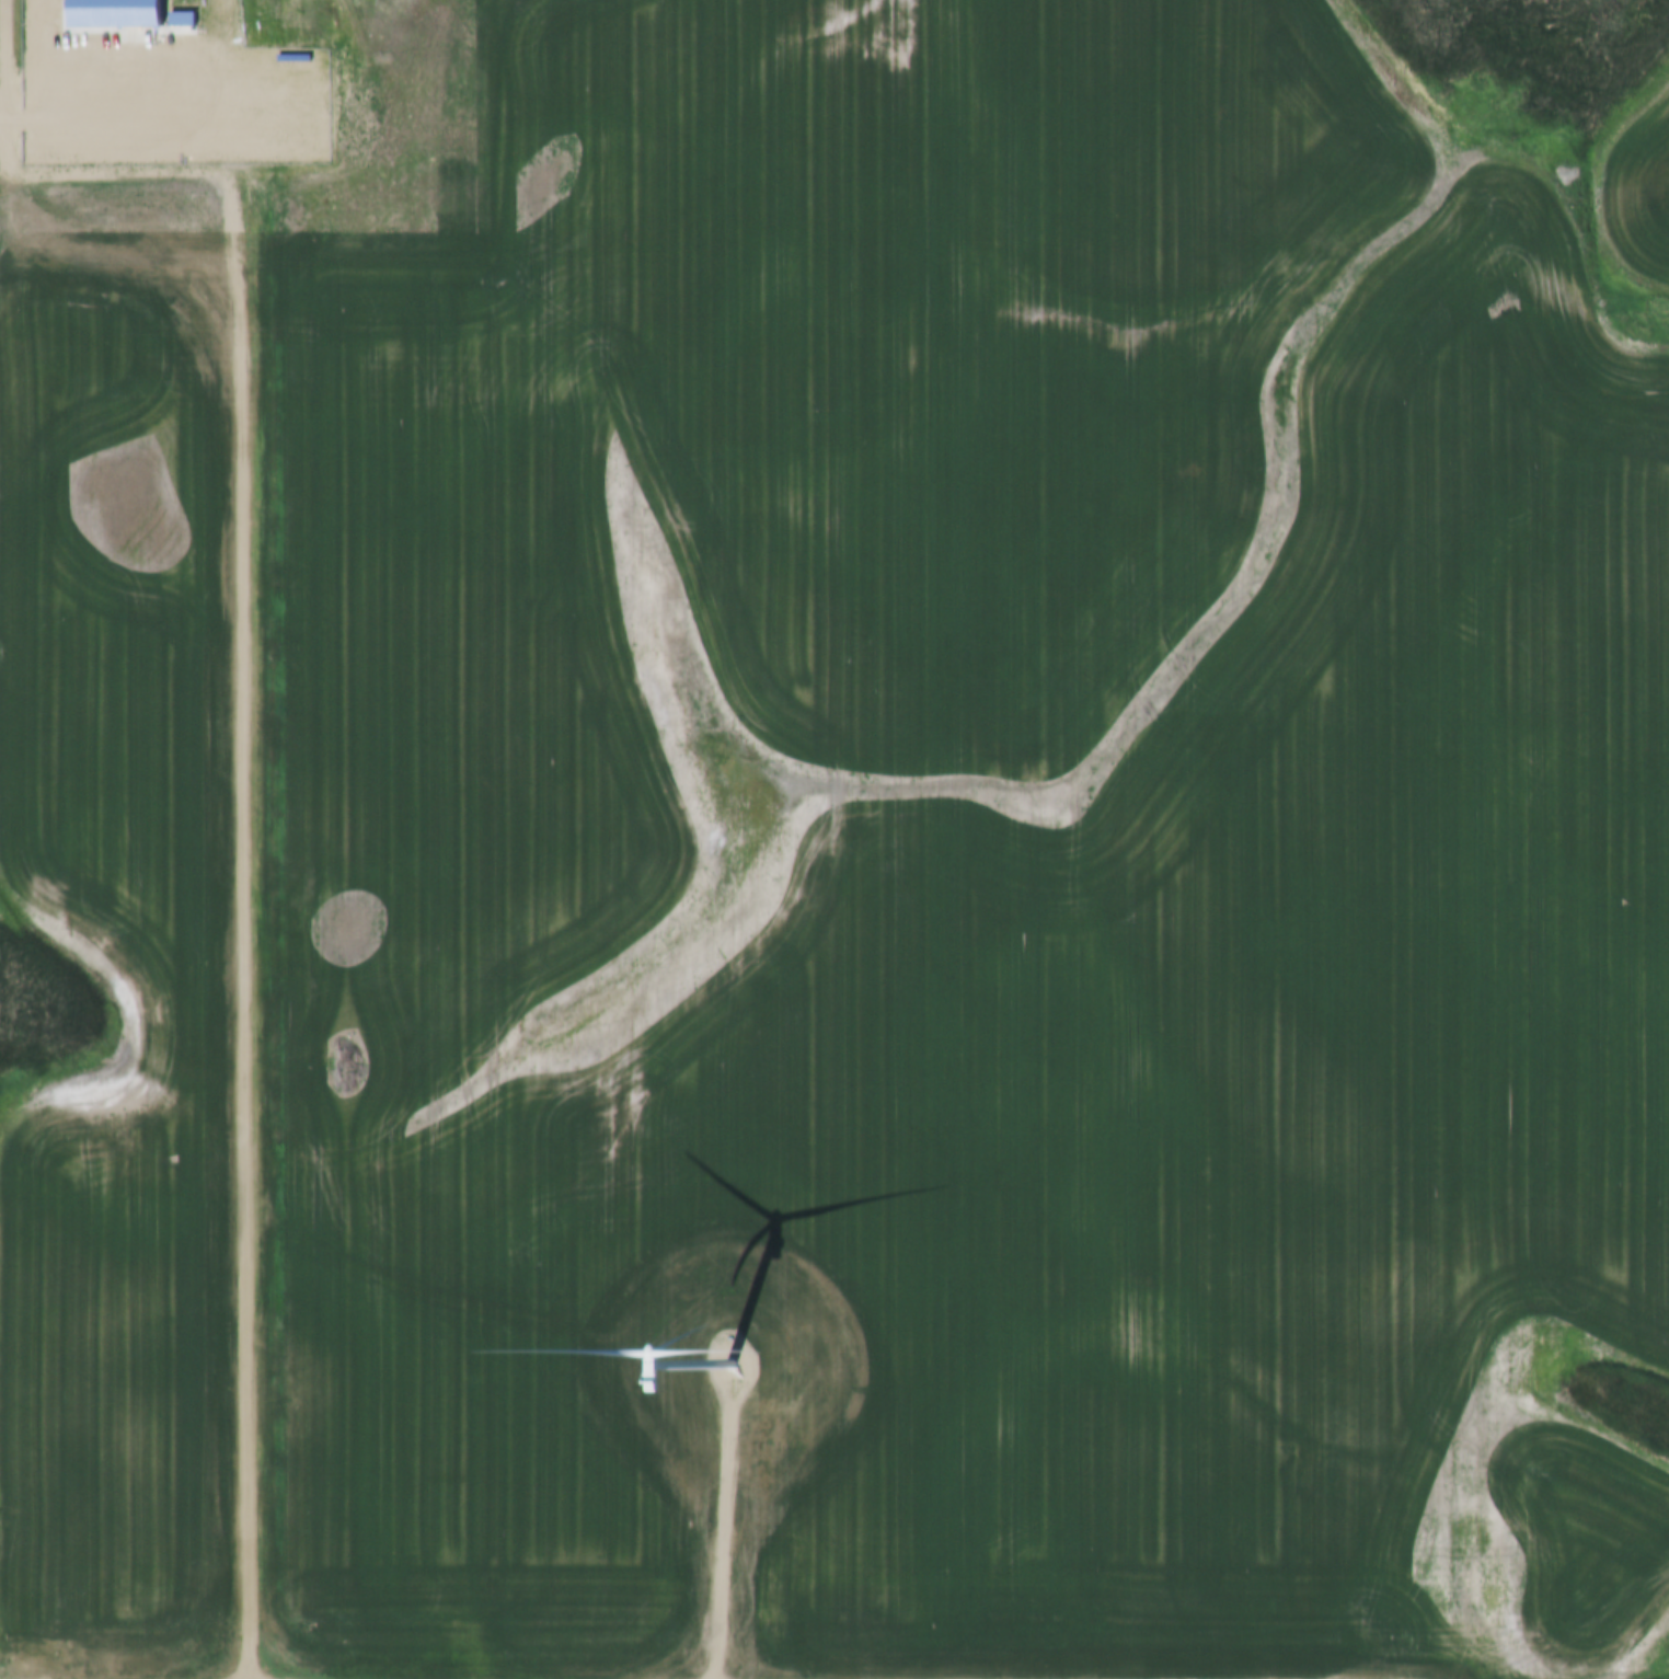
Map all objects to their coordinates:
building: (113, 14)
road: (20, 211)
road: (234, 961)
wind turbine: (720, 1356)
road: (725, 1546)

